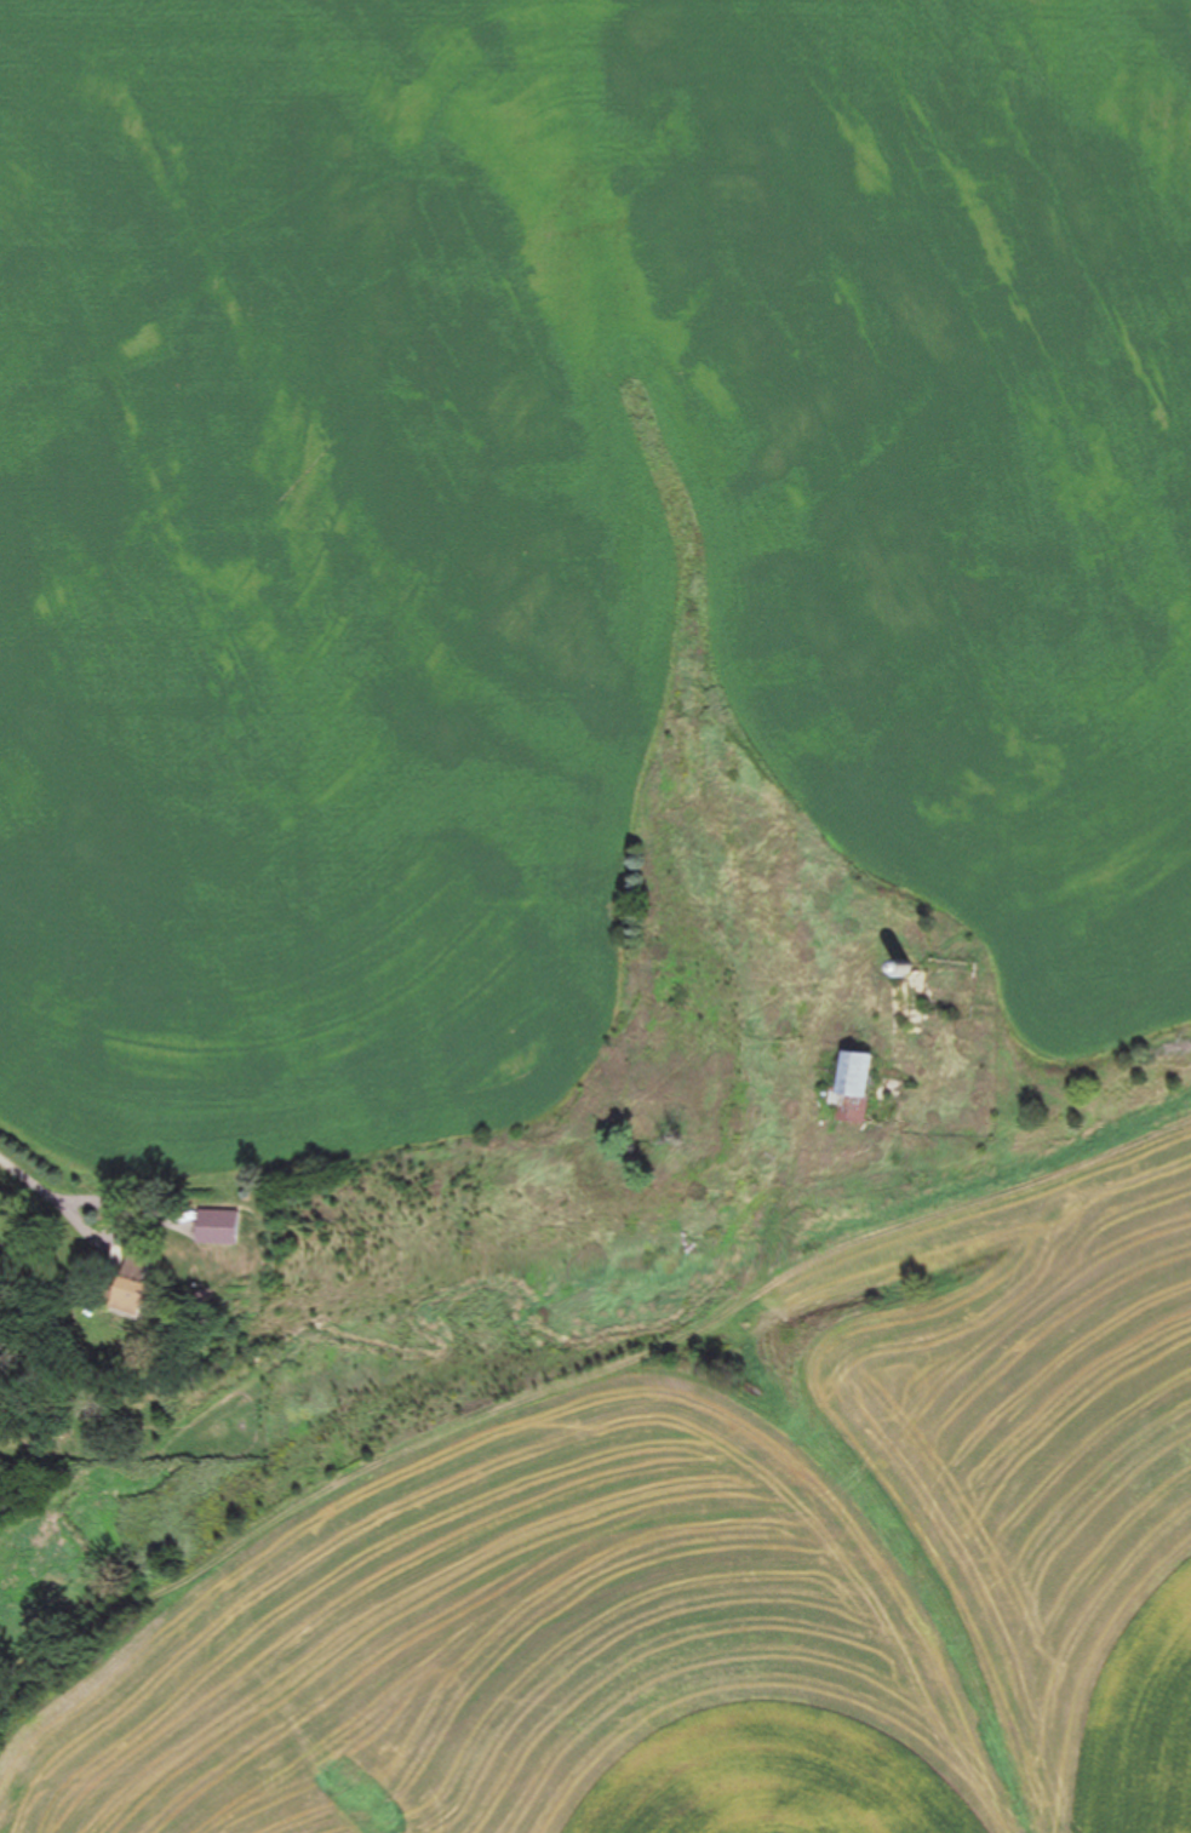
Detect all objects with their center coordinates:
building: (872, 1086)
building: (228, 1228)

